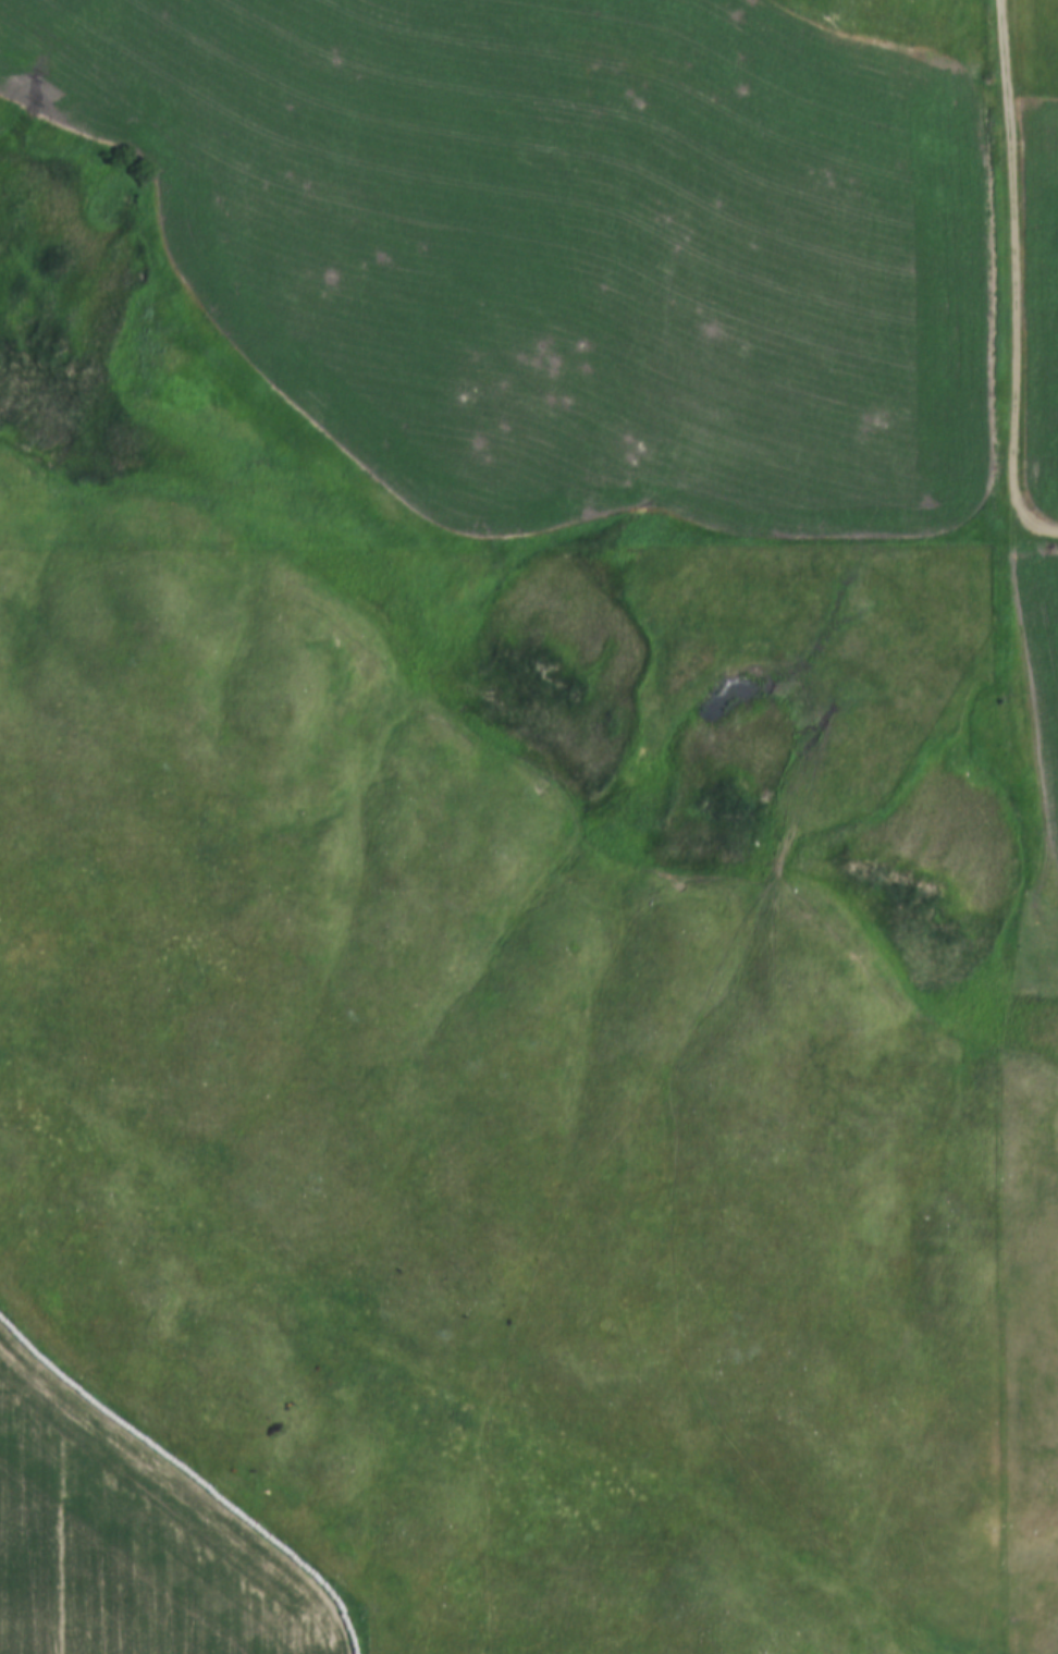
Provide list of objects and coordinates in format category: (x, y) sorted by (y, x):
road: (1031, 280)

